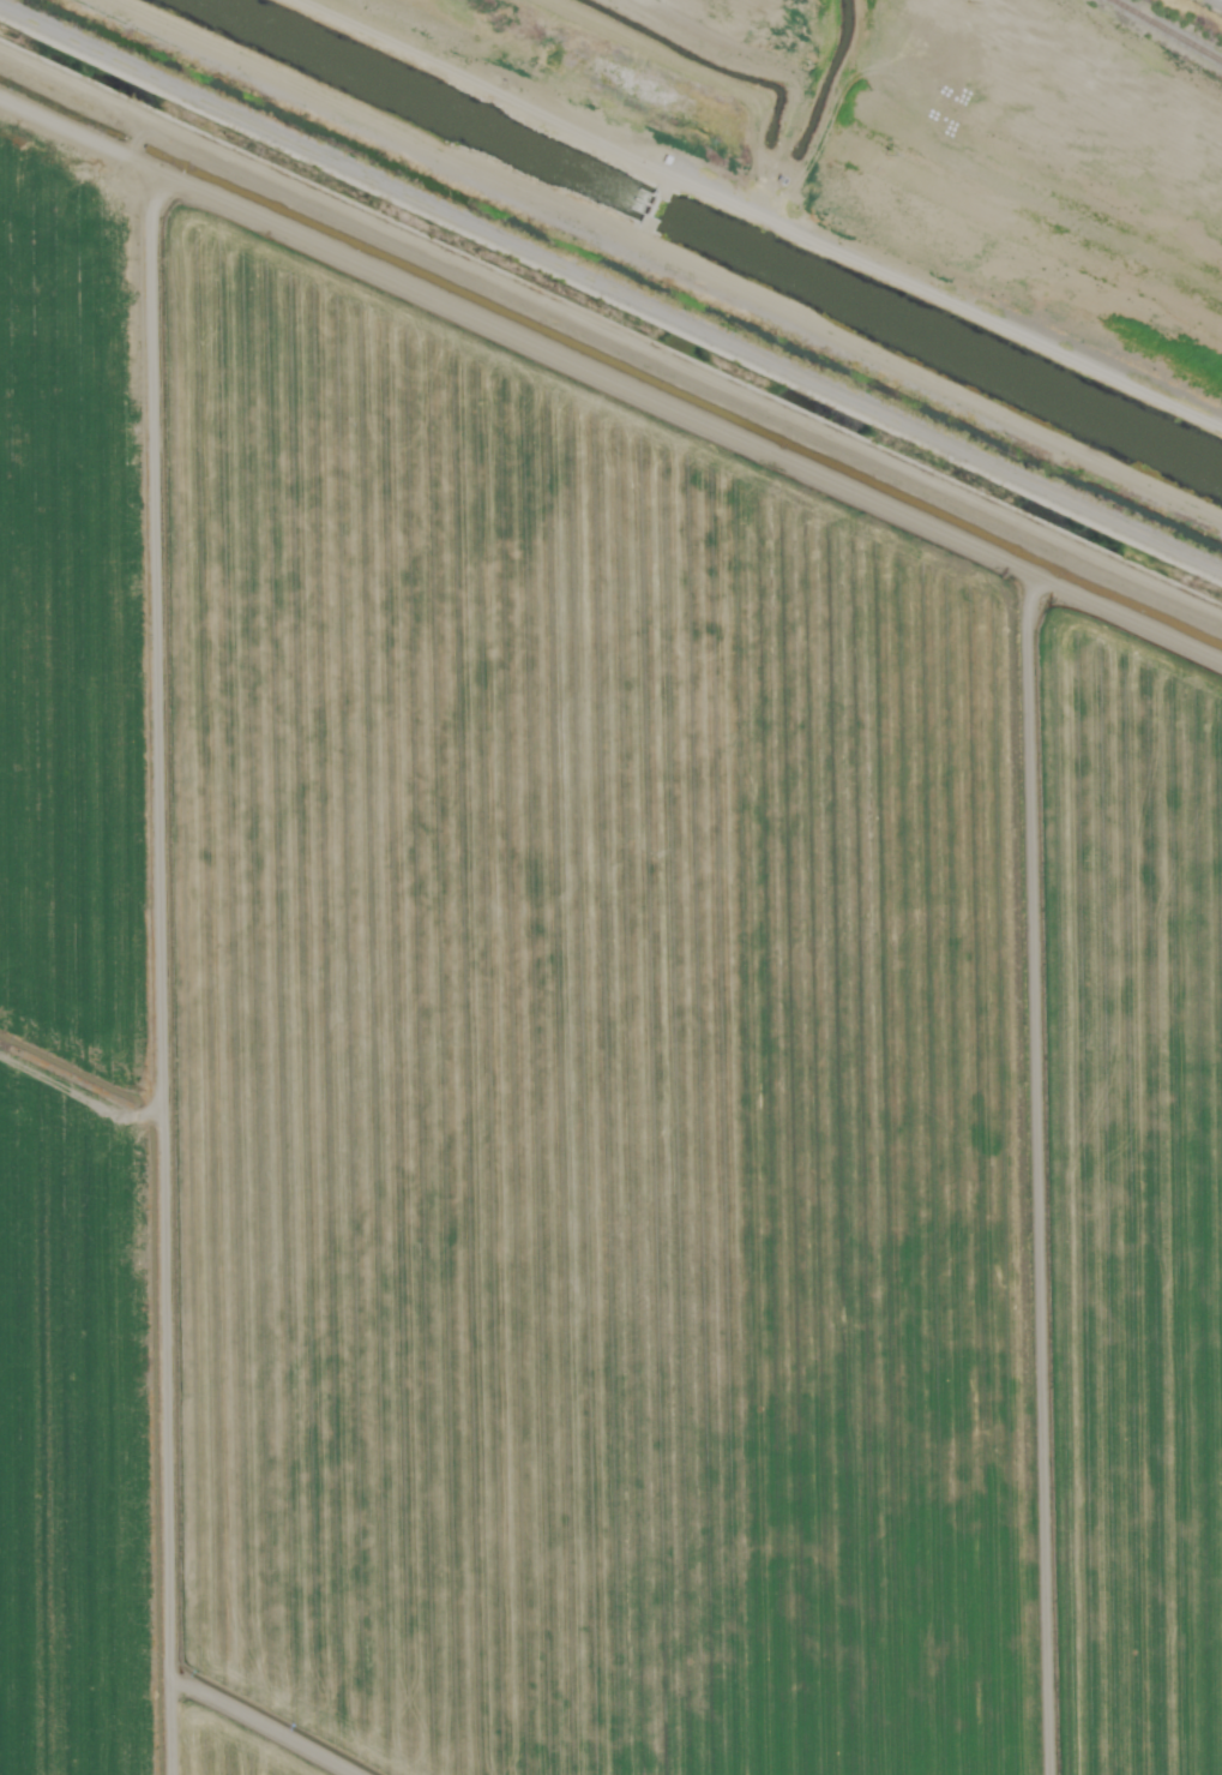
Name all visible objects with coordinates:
railway: (1166, 31)
road: (84, 73)
road: (847, 170)
road: (694, 354)
road: (167, 945)
crop: (82, 960)
crop: (663, 1089)

